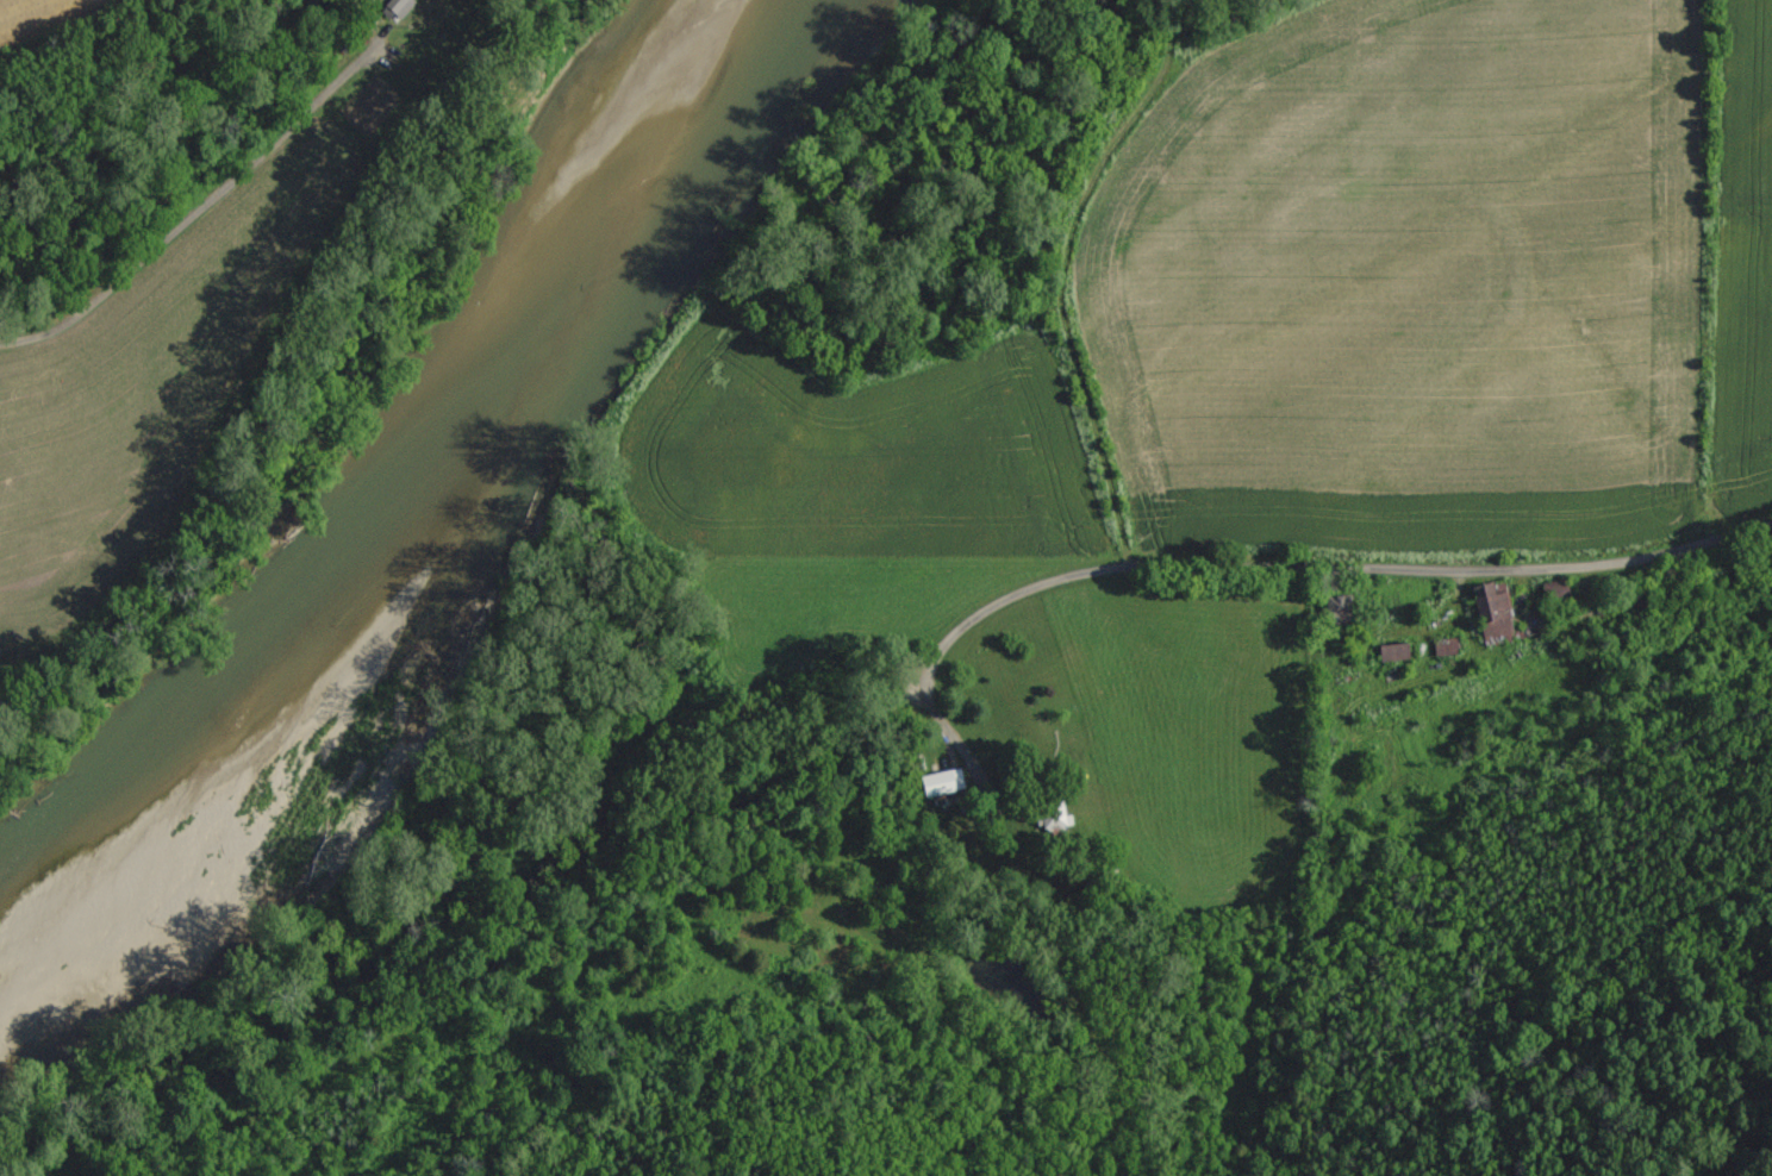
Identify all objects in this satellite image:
building: (397, 7)
road: (201, 168)
road: (198, 211)
river: (407, 490)
road: (1327, 568)
building: (1490, 613)
building: (1445, 648)
building: (1392, 651)
building: (940, 782)

